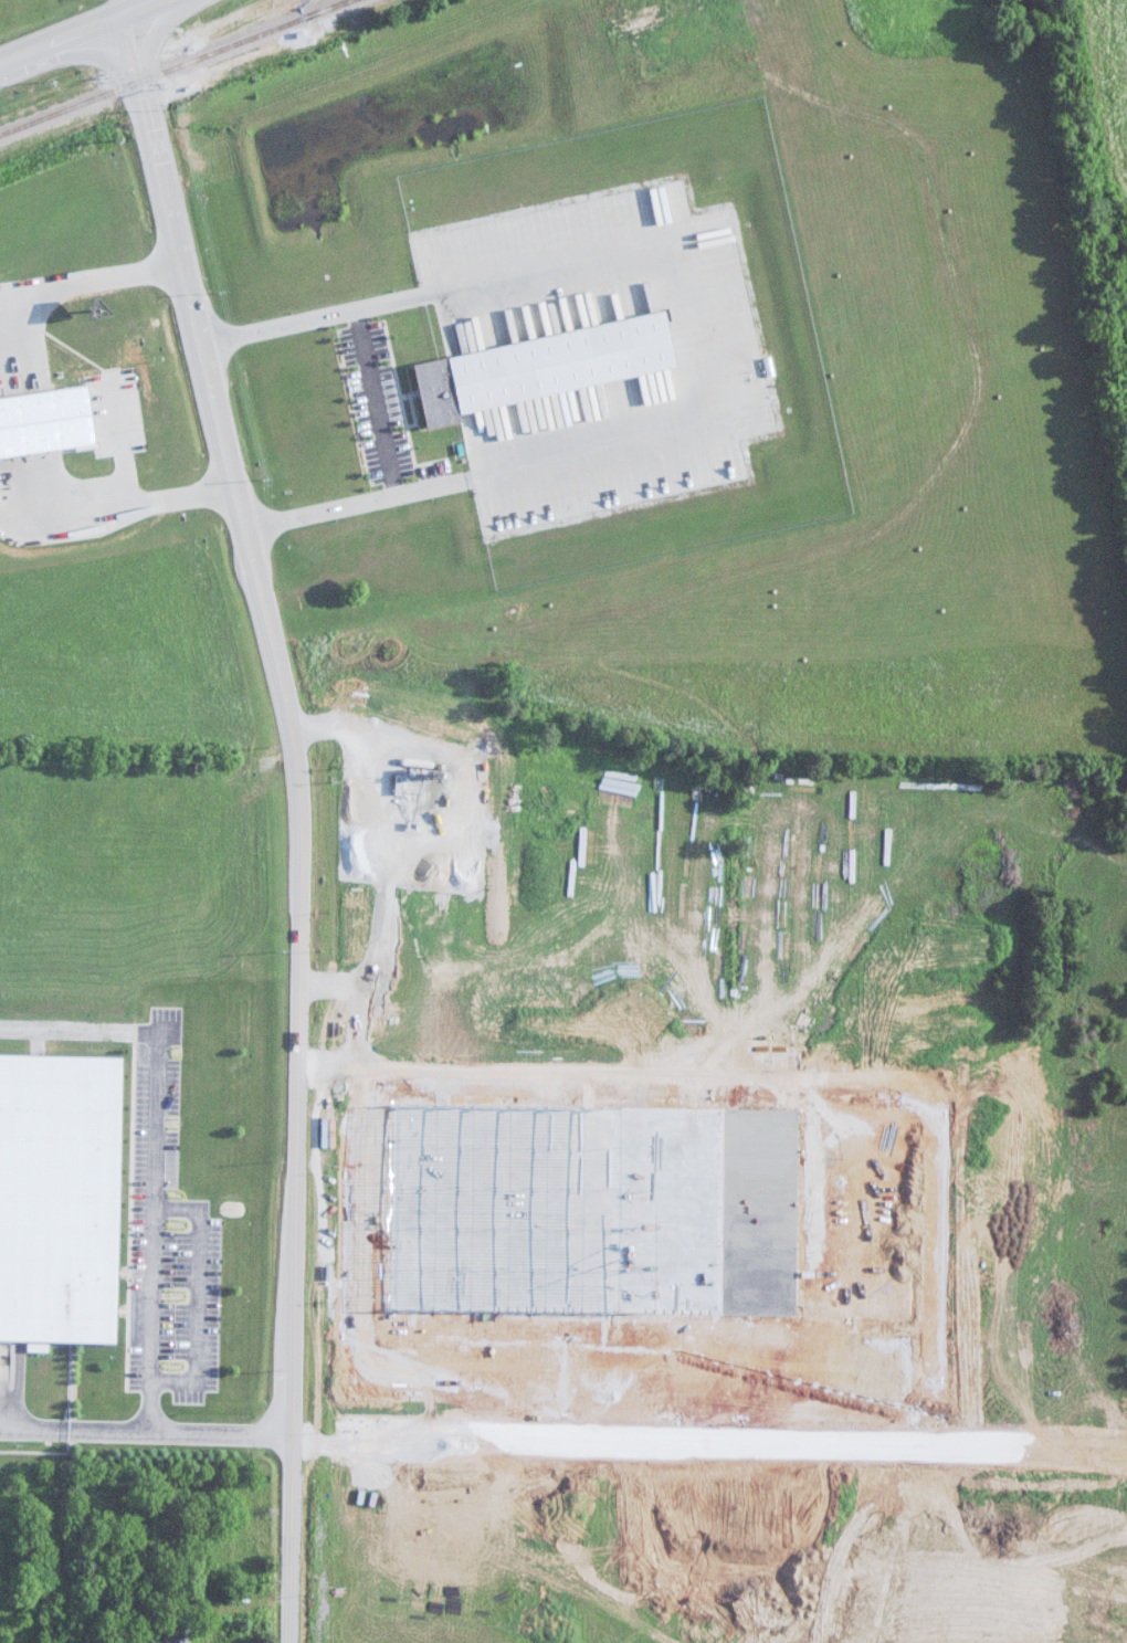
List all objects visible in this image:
road: (127, 9)
road: (147, 9)
road: (63, 42)
railway: (175, 69)
crop: (1105, 82)
road: (95, 280)
road: (718, 322)
road: (282, 327)
road: (376, 404)
road: (122, 502)
road: (325, 513)
building: (495, 531)
building: (345, 551)
building: (410, 564)
road: (309, 819)
road: (84, 1031)
crop: (517, 1191)
building: (64, 1197)
road: (165, 1232)
parking lot: (177, 1233)
road: (209, 1291)
road: (150, 1429)
road: (227, 1611)
building: (186, 1639)

